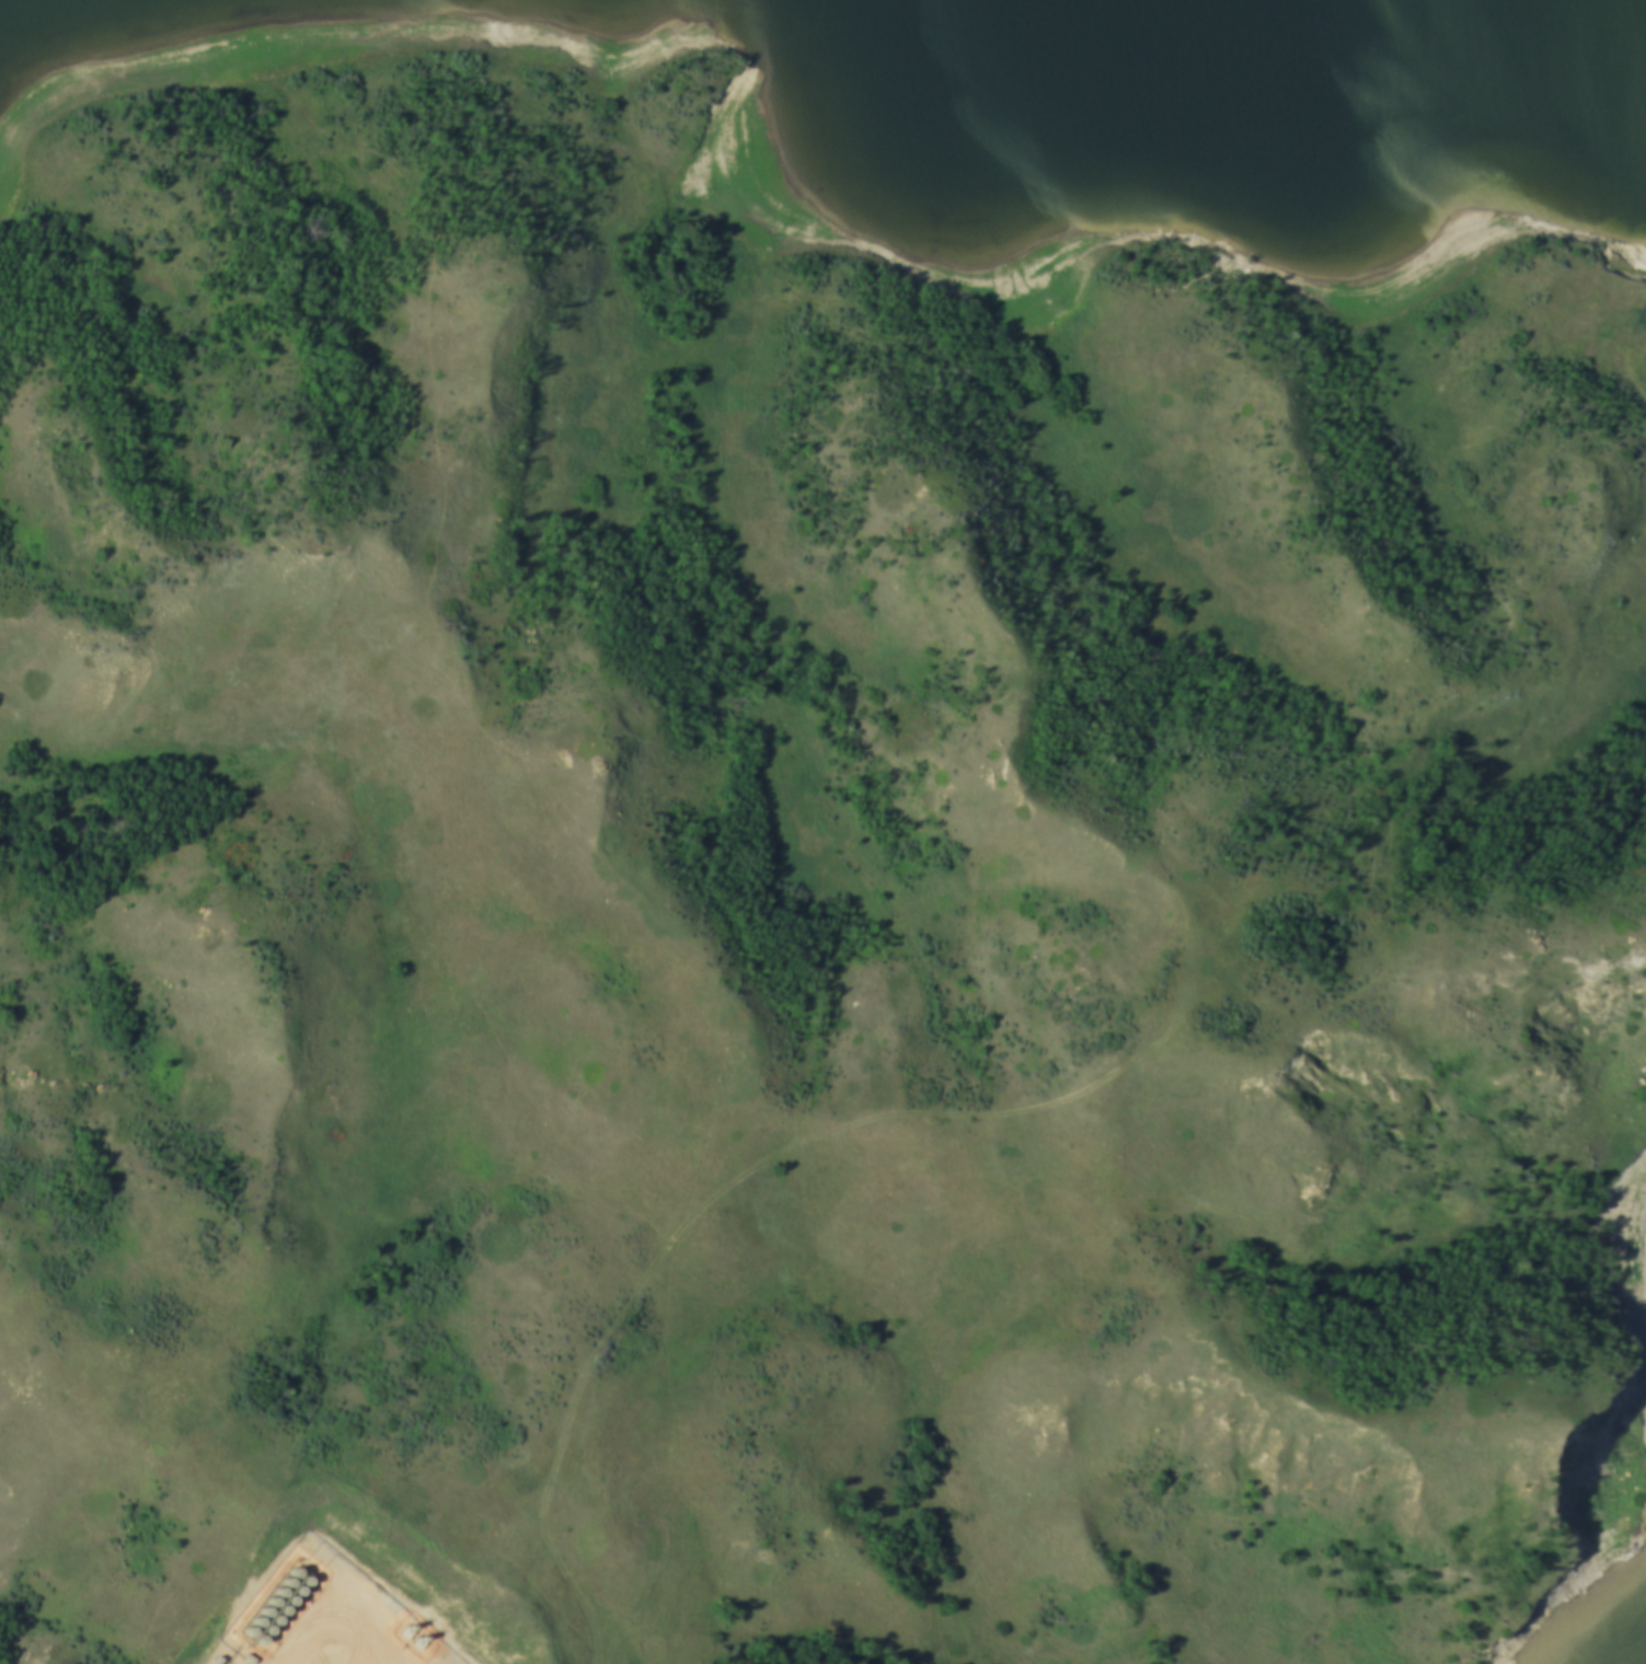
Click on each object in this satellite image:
road: (707, 1212)
building: (295, 1567)
storage tank: (295, 1567)
building: (303, 1574)
storage tank: (303, 1574)
building: (286, 1578)
storage tank: (286, 1578)
building: (297, 1585)
storage tank: (297, 1585)
building: (279, 1587)
storage tank: (279, 1587)
building: (289, 1595)
storage tank: (289, 1595)
building: (271, 1597)
storage tank: (271, 1597)
building: (280, 1605)
storage tank: (280, 1605)
building: (263, 1607)
storage tank: (263, 1607)
building: (274, 1616)
storage tank: (274, 1616)
building: (256, 1618)
storage tank: (256, 1618)
building: (266, 1626)
storage tank: (266, 1626)
building: (248, 1628)
storage tank: (248, 1628)
building: (258, 1636)
storage tank: (258, 1636)

